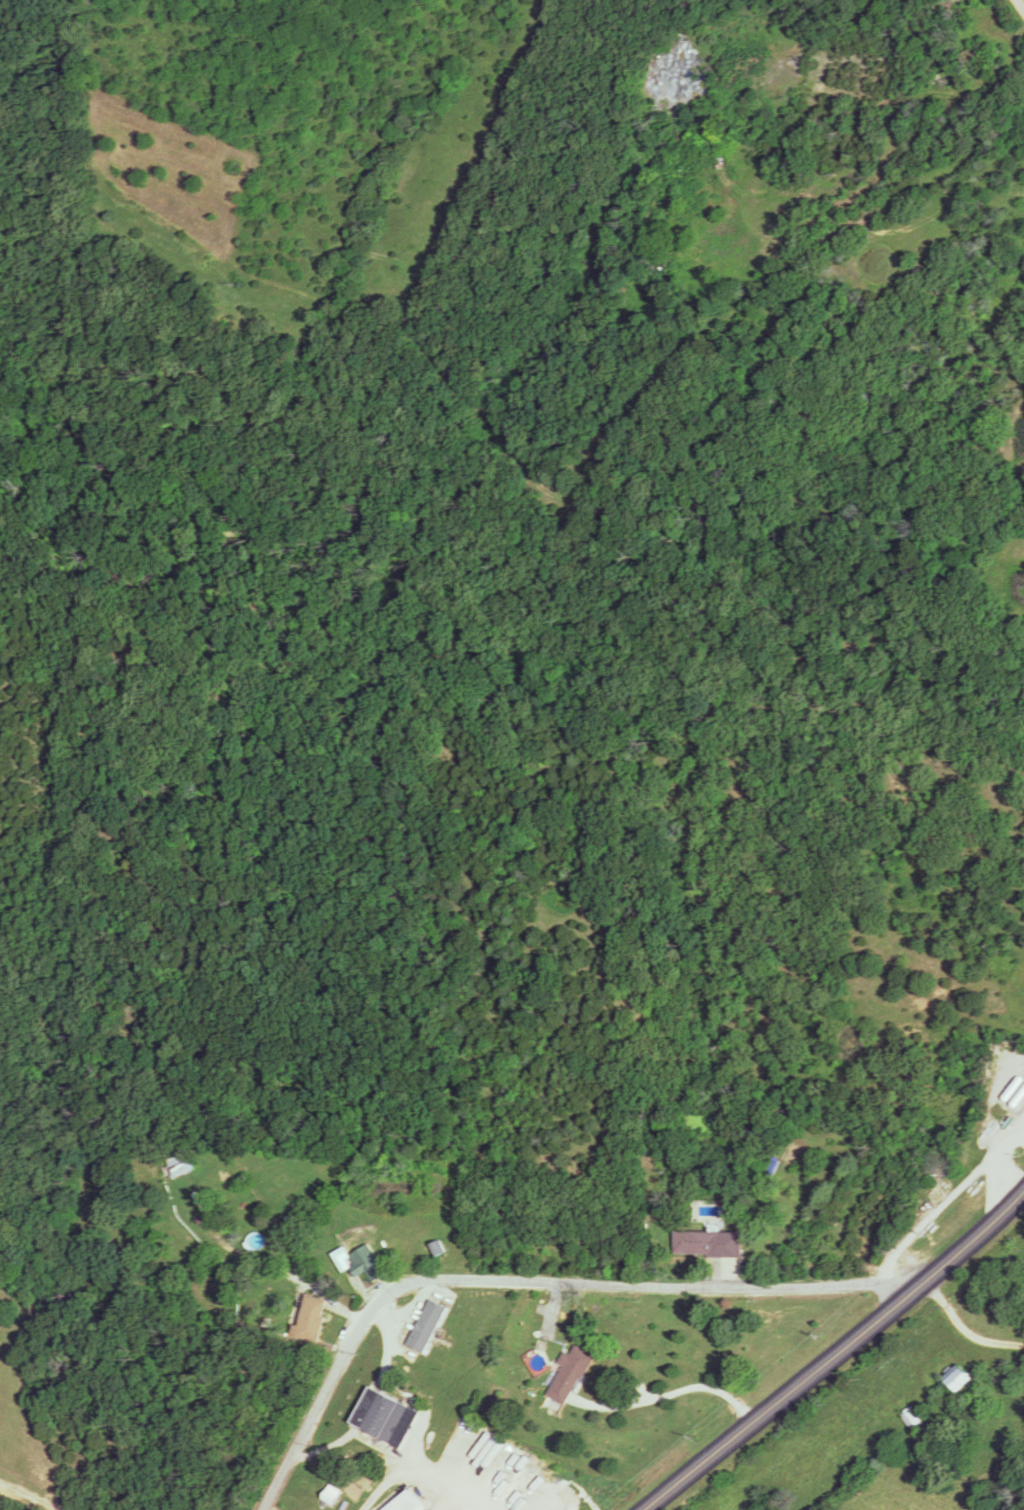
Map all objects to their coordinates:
road: (1023, 0)
building: (179, 1163)
building: (699, 1243)
building: (359, 1262)
road: (523, 1280)
building: (312, 1319)
building: (427, 1326)
road: (962, 1326)
road: (833, 1352)
building: (571, 1374)
building: (958, 1379)
building: (383, 1415)
building: (911, 1418)
road: (425, 1477)
building: (407, 1503)

